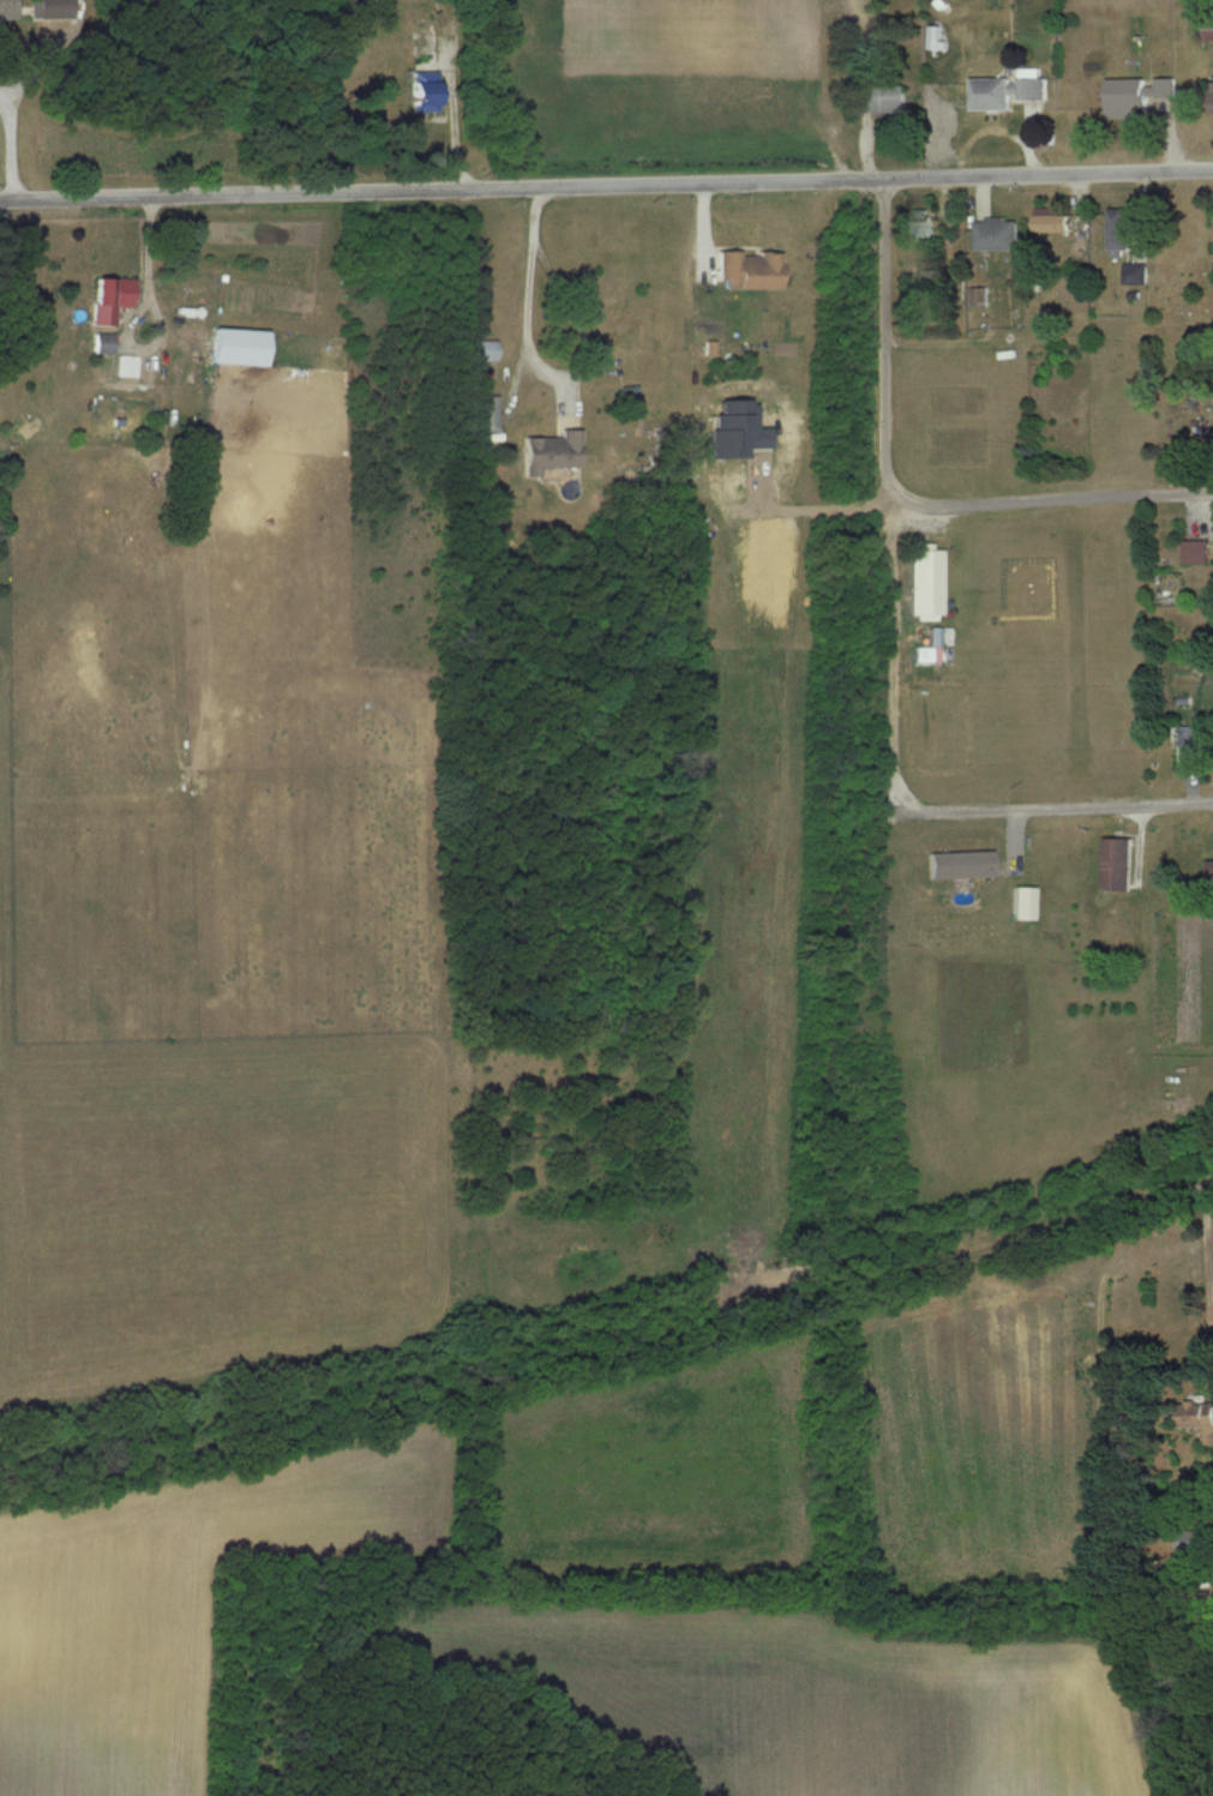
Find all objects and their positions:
building: (426, 84)
building: (1009, 90)
building: (1140, 95)
building: (887, 98)
road: (6, 148)
road: (1049, 176)
road: (442, 188)
building: (1055, 221)
building: (1122, 230)
building: (997, 234)
building: (752, 270)
building: (116, 290)
building: (980, 296)
road: (884, 342)
building: (106, 343)
building: (244, 346)
building: (486, 349)
road: (536, 359)
building: (490, 414)
building: (556, 452)
road: (1053, 501)
building: (920, 573)
road: (1172, 801)
road: (944, 806)
building: (1119, 865)
building: (1027, 905)
road: (1209, 1265)

